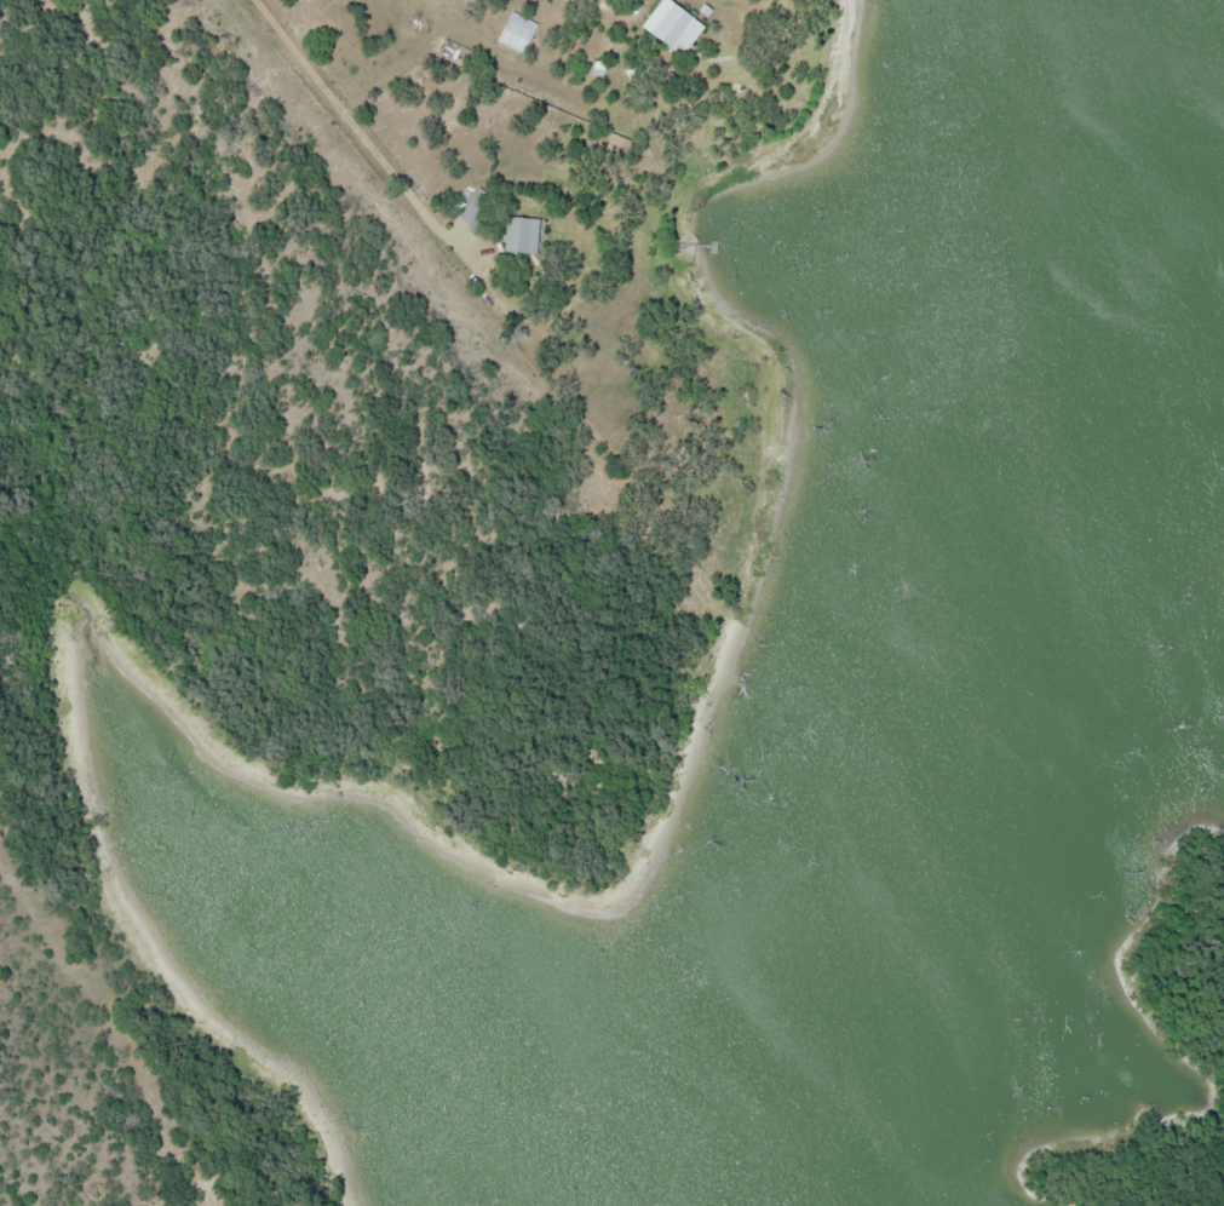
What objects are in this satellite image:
building: (668, 27)
building: (515, 31)
road: (381, 147)
building: (518, 234)
river: (965, 618)

